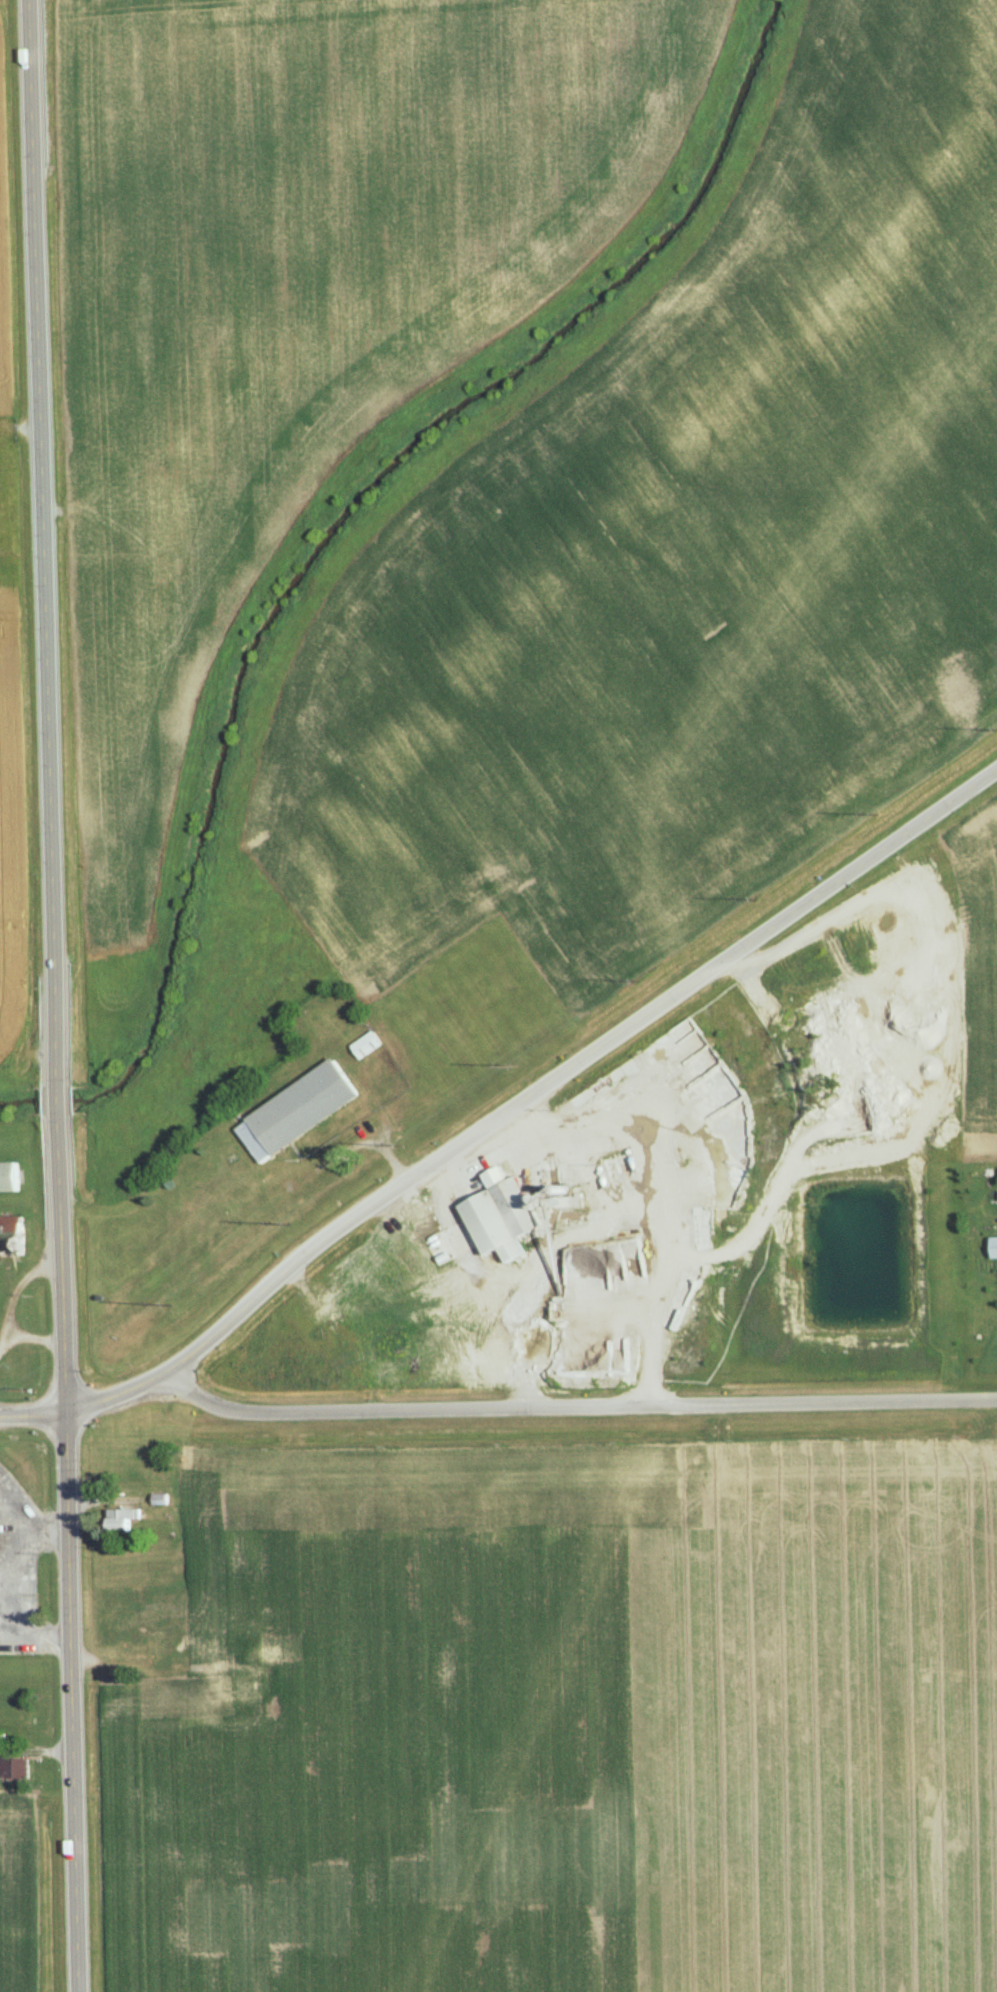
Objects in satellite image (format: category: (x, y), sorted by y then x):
crop: (307, 282)
road: (43, 544)
crop: (680, 567)
crop: (6, 904)
crop: (971, 979)
road: (56, 1102)
building: (288, 1112)
road: (503, 1113)
building: (9, 1177)
road: (773, 1202)
building: (491, 1217)
building: (989, 1248)
road: (575, 1407)
building: (123, 1518)
road: (68, 1553)
crop: (565, 1728)
building: (14, 1770)
crop: (15, 1903)

